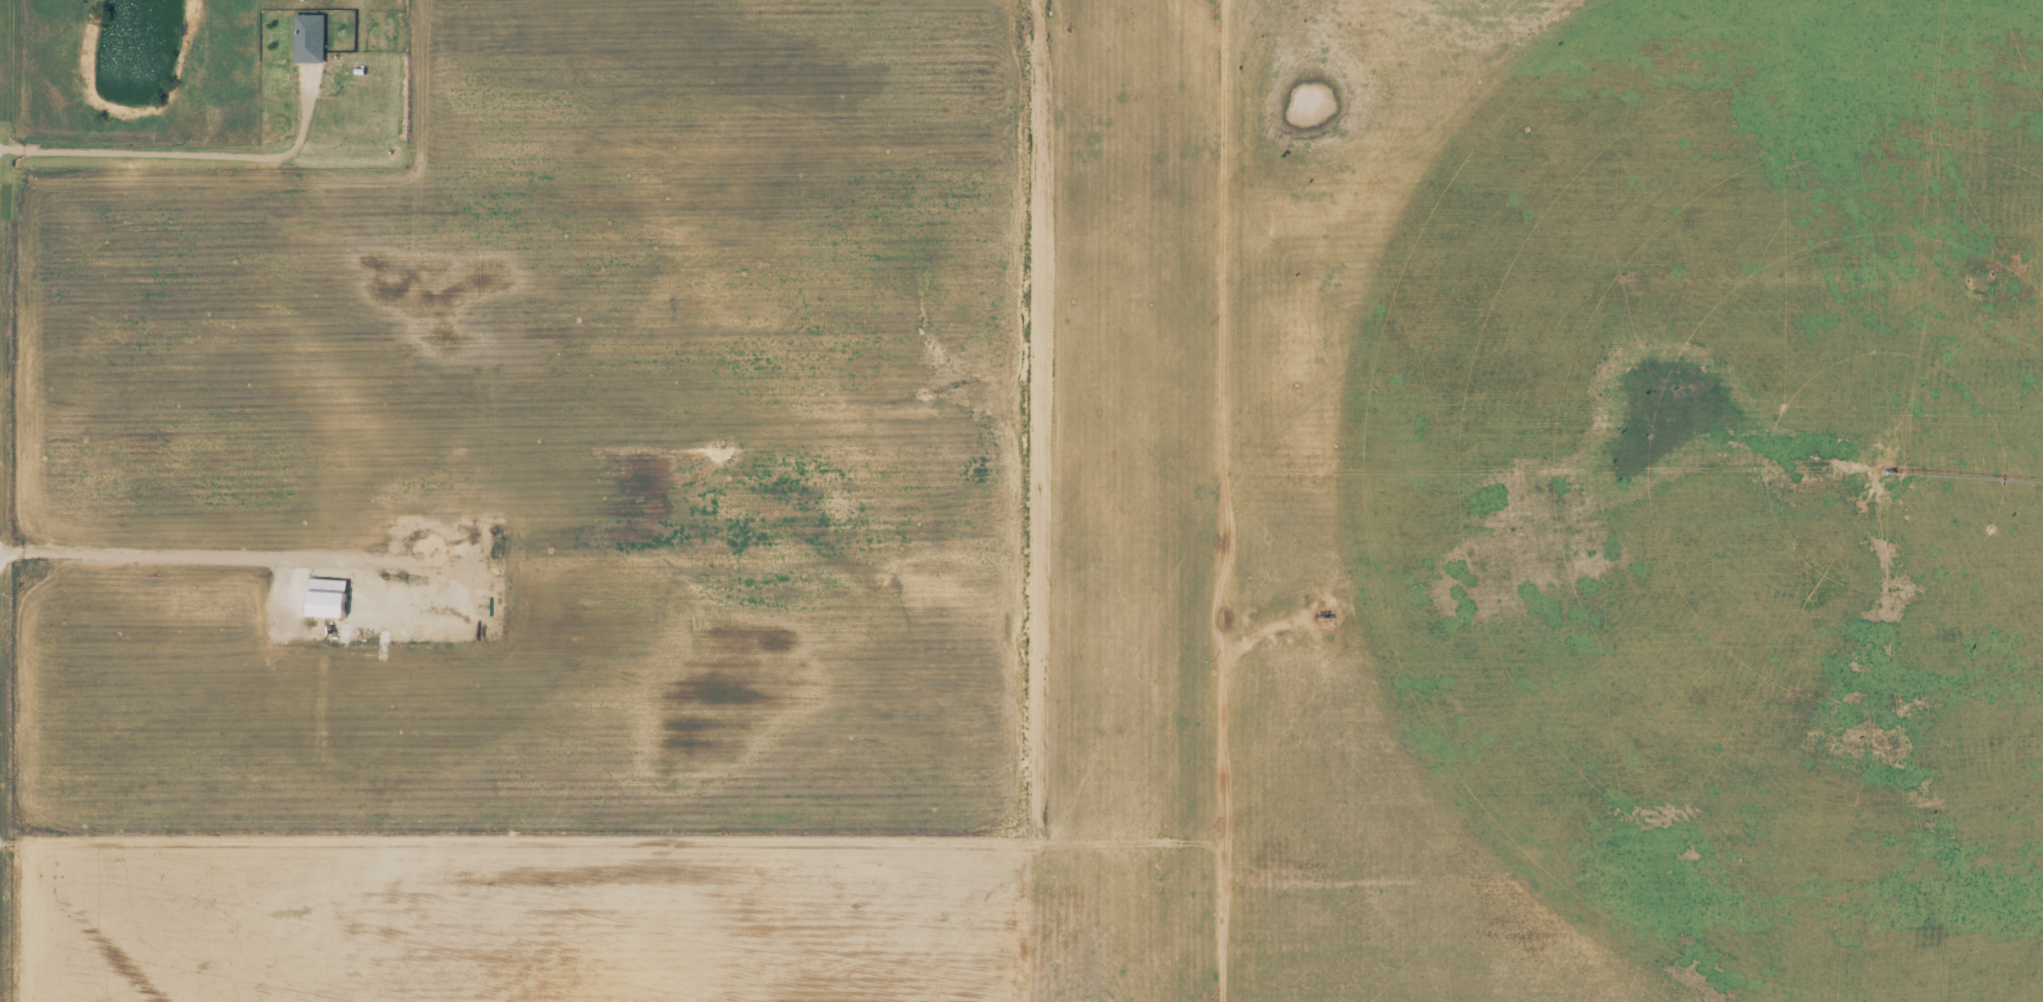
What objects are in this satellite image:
building: (309, 38)
building: (218, 115)
road: (1209, 501)
building: (330, 597)

